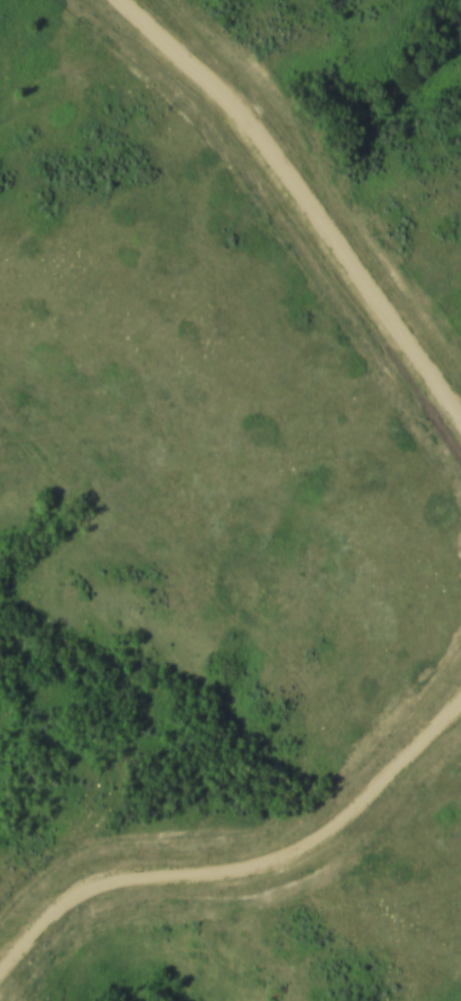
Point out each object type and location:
road: (304, 204)
road: (247, 866)

